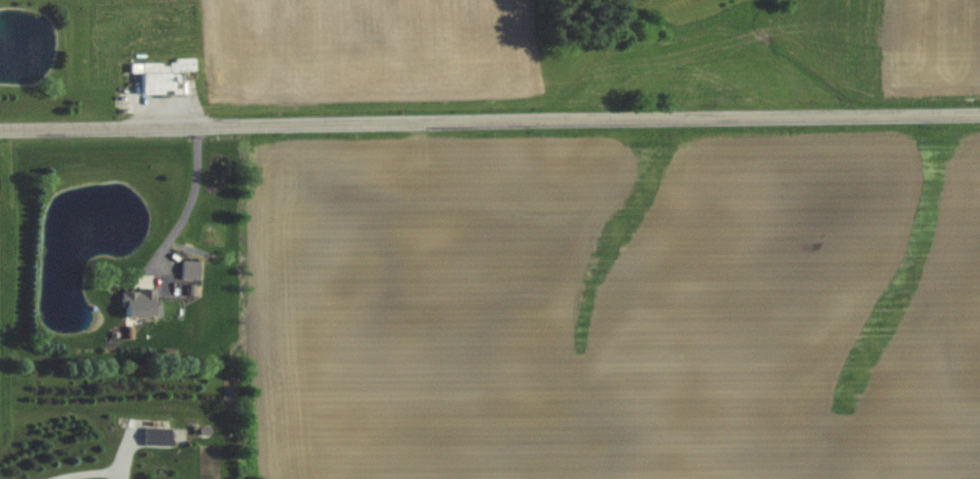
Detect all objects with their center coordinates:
building: (162, 75)
road: (489, 120)
road: (190, 206)
building: (191, 268)
building: (138, 301)
building: (157, 435)
road: (90, 474)

